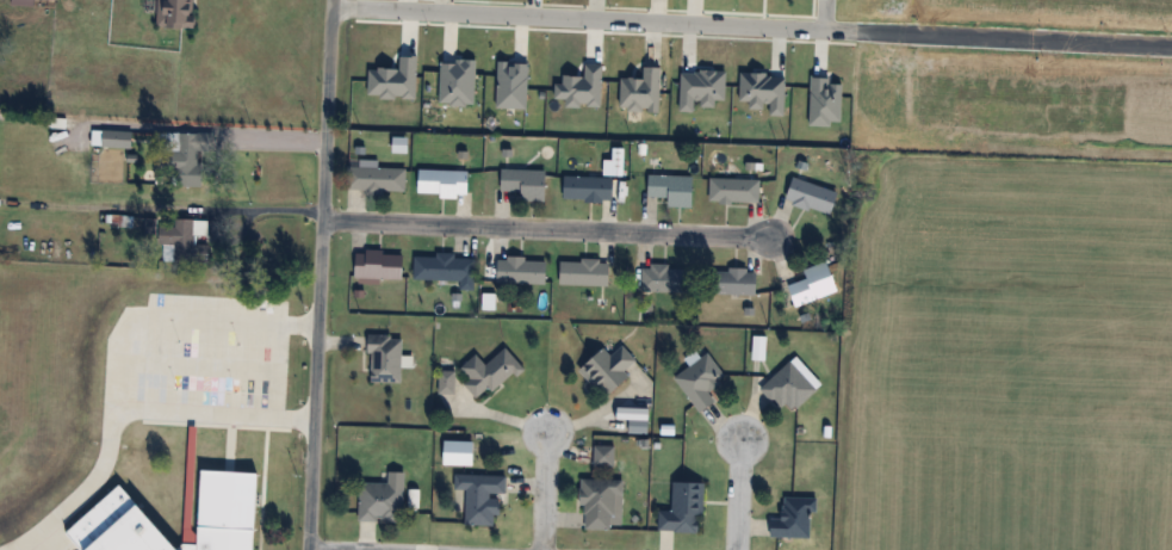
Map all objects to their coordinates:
road: (816, 12)
building: (178, 13)
road: (571, 16)
road: (990, 35)
building: (116, 138)
road: (327, 138)
building: (184, 160)
building: (378, 179)
building: (445, 181)
building: (527, 183)
building: (590, 187)
building: (677, 189)
building: (736, 190)
building: (813, 196)
road: (266, 208)
road: (548, 229)
building: (187, 241)
building: (380, 264)
building: (447, 268)
building: (523, 270)
building: (588, 272)
building: (669, 278)
building: (738, 280)
building: (816, 284)
building: (761, 347)
road: (283, 369)
building: (610, 370)
building: (490, 372)
park: (55, 378)
building: (702, 381)
building: (448, 382)
building: (794, 385)
road: (315, 413)
road: (117, 421)
building: (604, 456)
road: (546, 490)
road: (740, 495)
building: (484, 496)
building: (383, 502)
building: (601, 502)
building: (686, 508)
building: (796, 519)
building: (123, 526)
building: (229, 538)

